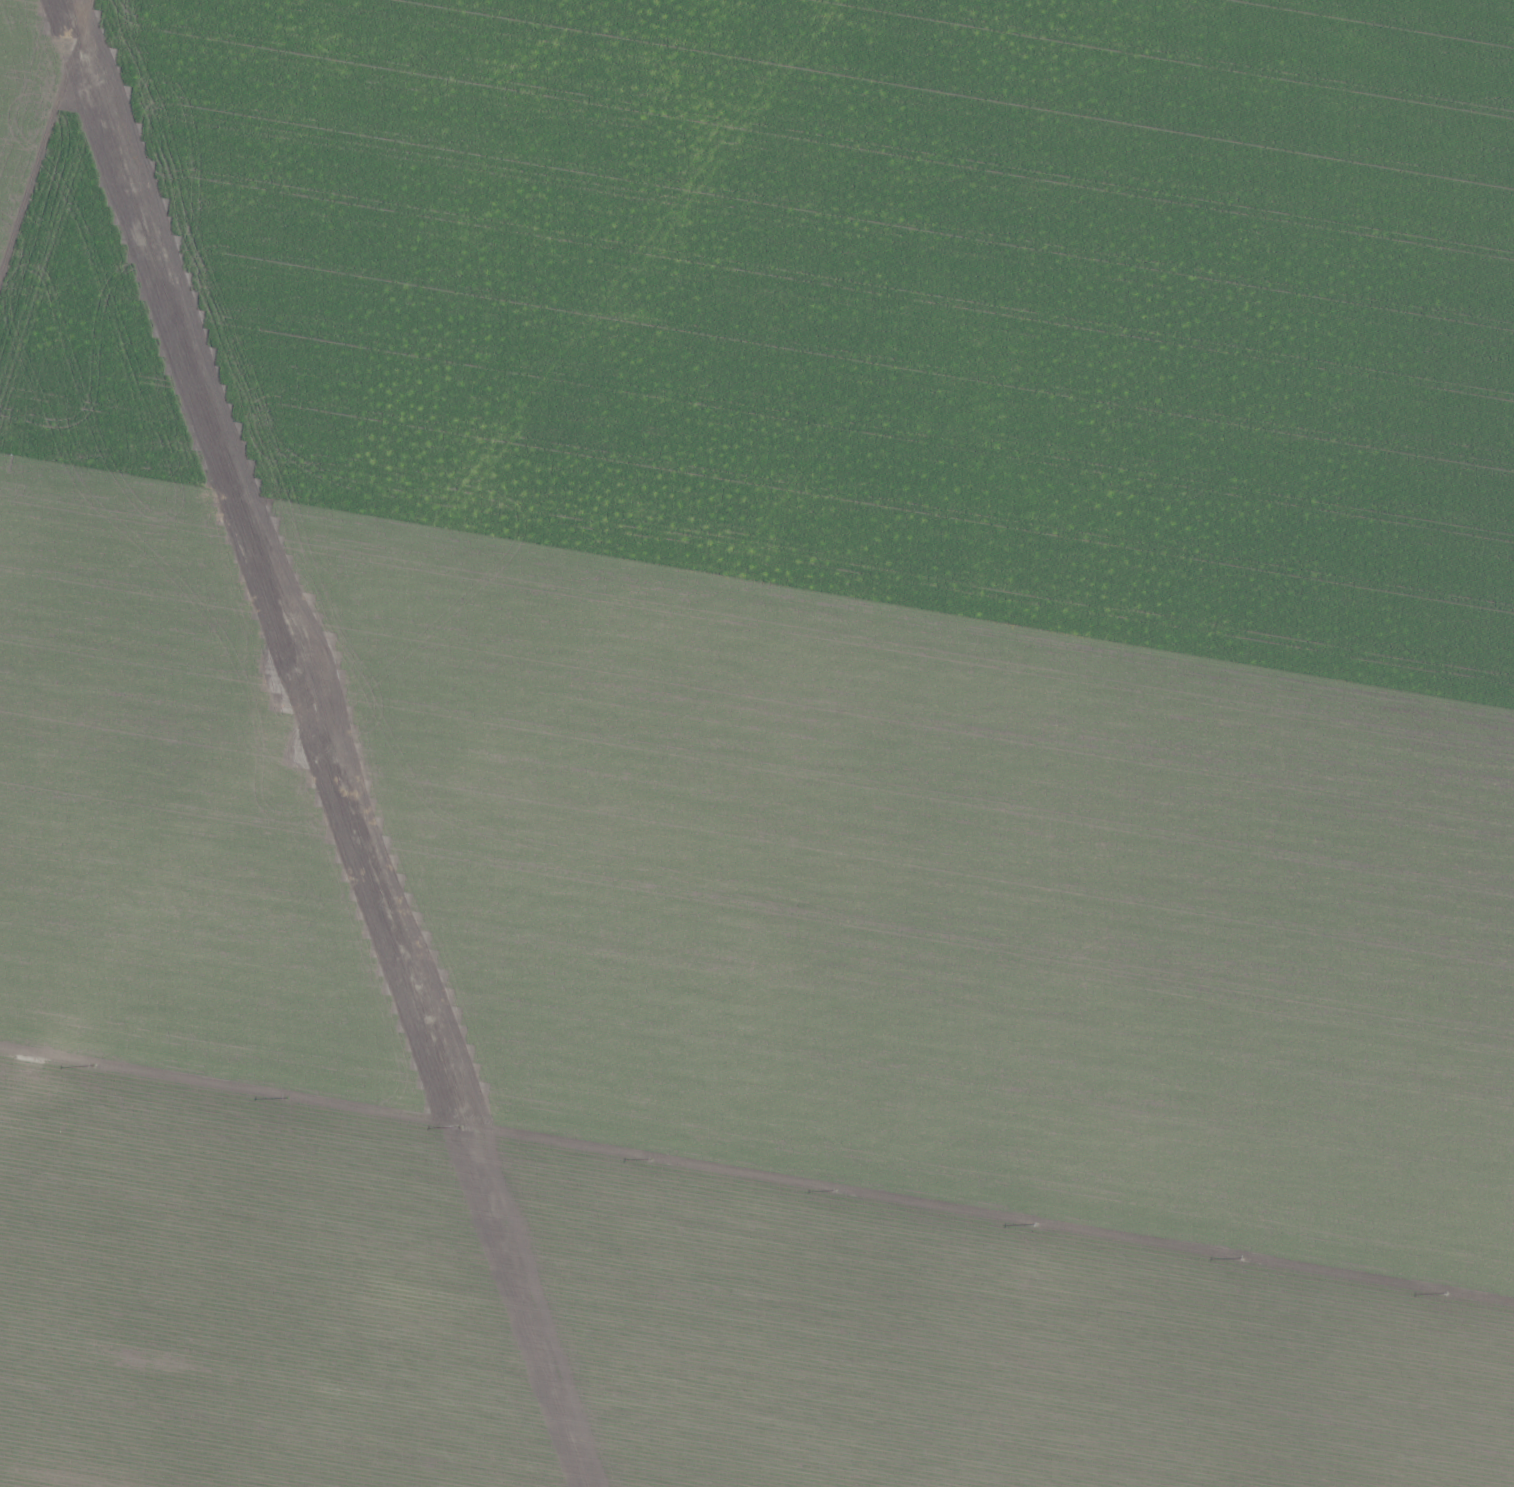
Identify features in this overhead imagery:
road: (757, 1198)

